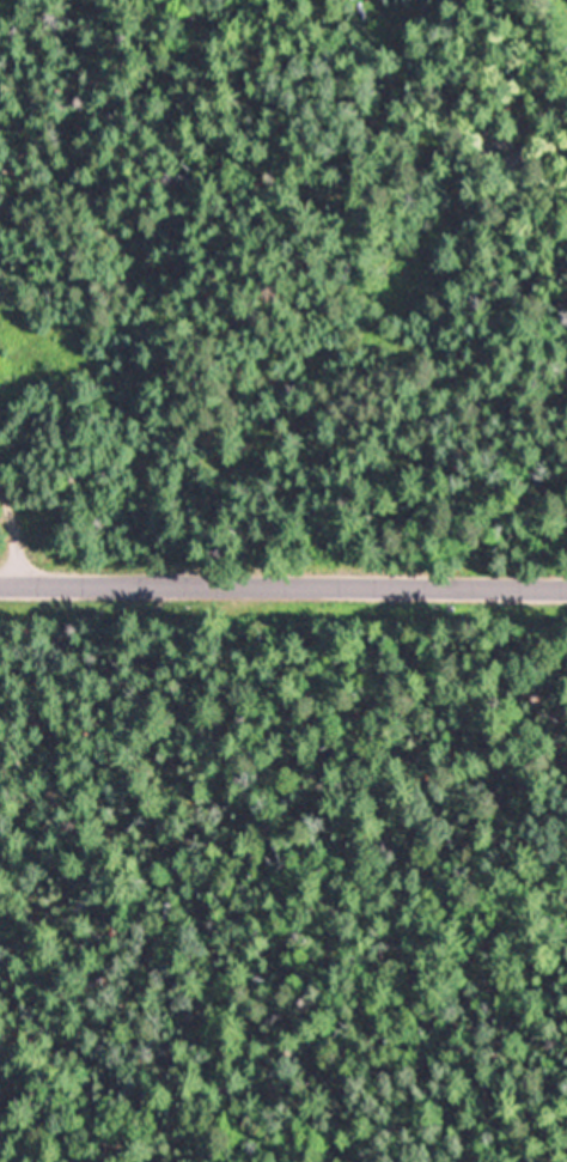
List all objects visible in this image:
building: (501, 140)
building: (523, 165)
building: (443, 273)
road: (43, 448)
road: (283, 584)

